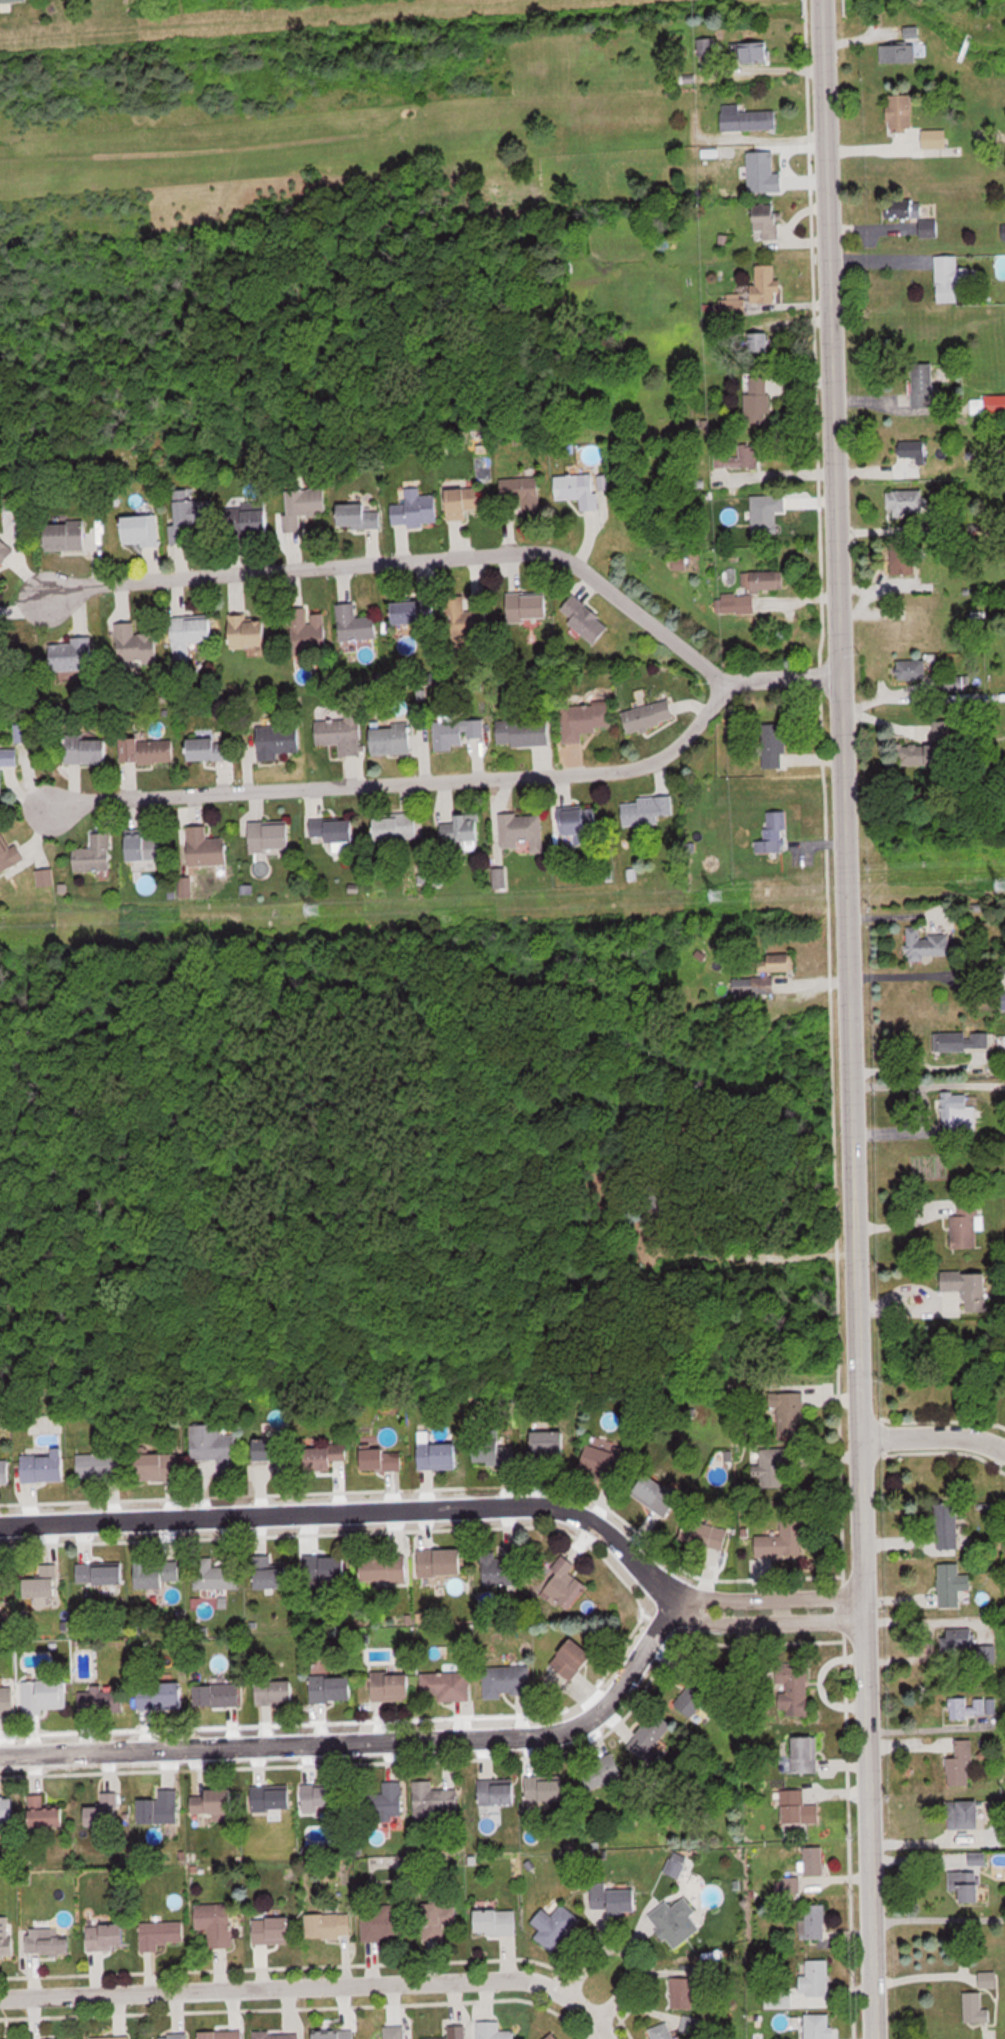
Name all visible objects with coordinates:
building: (911, 34)
building: (704, 47)
building: (753, 53)
building: (898, 54)
building: (901, 113)
building: (748, 119)
building: (936, 139)
building: (764, 162)
building: (914, 217)
building: (768, 228)
building: (952, 279)
building: (767, 285)
building: (762, 344)
building: (924, 383)
building: (758, 399)
building: (914, 453)
building: (740, 454)
road: (782, 475)
building: (579, 490)
building: (521, 494)
building: (464, 503)
building: (906, 503)
building: (305, 508)
building: (416, 510)
building: (360, 516)
building: (257, 519)
building: (192, 520)
building: (141, 531)
building: (68, 537)
building: (4, 552)
road: (388, 558)
building: (902, 562)
building: (751, 592)
building: (527, 607)
building: (414, 613)
building: (467, 618)
building: (585, 619)
building: (357, 627)
building: (309, 630)
building: (251, 631)
building: (192, 635)
building: (2, 645)
building: (137, 645)
building: (74, 655)
building: (912, 670)
road: (781, 683)
building: (650, 716)
building: (586, 721)
building: (341, 731)
building: (458, 732)
building: (525, 732)
building: (24, 733)
building: (393, 740)
building: (279, 741)
building: (775, 746)
building: (210, 749)
building: (87, 751)
building: (149, 751)
building: (926, 754)
building: (8, 763)
road: (386, 783)
building: (647, 810)
building: (580, 822)
building: (398, 827)
building: (461, 830)
building: (338, 831)
building: (523, 831)
building: (772, 834)
building: (271, 836)
building: (144, 847)
building: (208, 848)
building: (9, 854)
building: (95, 854)
building: (46, 878)
power tower: (721, 895)
power tower: (319, 912)
building: (927, 945)
building: (764, 974)
road: (912, 975)
road: (847, 1019)
building: (964, 1042)
road: (926, 1083)
building: (959, 1111)
building: (965, 1221)
building: (968, 1286)
building: (788, 1414)
road: (935, 1431)
building: (549, 1441)
building: (214, 1445)
building: (270, 1449)
building: (495, 1450)
building: (439, 1455)
building: (325, 1458)
building: (385, 1460)
building: (606, 1462)
building: (157, 1465)
building: (776, 1465)
building: (45, 1466)
building: (99, 1466)
building: (5, 1472)
building: (660, 1497)
road: (354, 1510)
building: (948, 1524)
building: (710, 1536)
building: (784, 1540)
building: (442, 1561)
building: (503, 1567)
building: (334, 1568)
building: (394, 1568)
building: (101, 1573)
building: (158, 1573)
building: (217, 1576)
building: (272, 1576)
building: (44, 1582)
building: (952, 1584)
building: (564, 1585)
building: (1, 1590)
road: (771, 1598)
road: (768, 1622)
building: (961, 1638)
building: (573, 1659)
building: (507, 1680)
building: (447, 1685)
building: (392, 1686)
building: (332, 1688)
building: (794, 1690)
building: (276, 1691)
building: (46, 1693)
building: (218, 1694)
building: (161, 1695)
building: (103, 1698)
building: (7, 1700)
building: (694, 1702)
building: (968, 1707)
building: (651, 1735)
road: (370, 1741)
building: (807, 1748)
building: (961, 1765)
building: (602, 1773)
building: (546, 1789)
building: (498, 1792)
building: (435, 1798)
building: (272, 1799)
building: (389, 1800)
building: (217, 1803)
building: (322, 1805)
building: (802, 1808)
building: (7, 1809)
building: (159, 1810)
building: (105, 1811)
building: (47, 1814)
building: (967, 1815)
road: (924, 1839)
building: (815, 1860)
building: (677, 1865)
building: (968, 1885)
building: (614, 1899)
building: (438, 1920)
road: (939, 1920)
building: (497, 1922)
building: (217, 1923)
building: (555, 1923)
building: (676, 1923)
building: (816, 1923)
building: (330, 1925)
building: (386, 1926)
building: (274, 1930)
building: (161, 1935)
building: (6, 1936)
building: (107, 1936)
building: (49, 1944)
road: (630, 1952)
building: (817, 1978)
building: (989, 1980)
road: (312, 1984)
building: (683, 1993)
building: (976, 2008)
building: (819, 2026)
building: (494, 2031)
building: (396, 2032)
building: (458, 2032)
building: (662, 2032)
building: (335, 2034)
building: (222, 2035)
building: (278, 2035)
building: (553, 2036)
building: (174, 2037)
building: (113, 2038)

